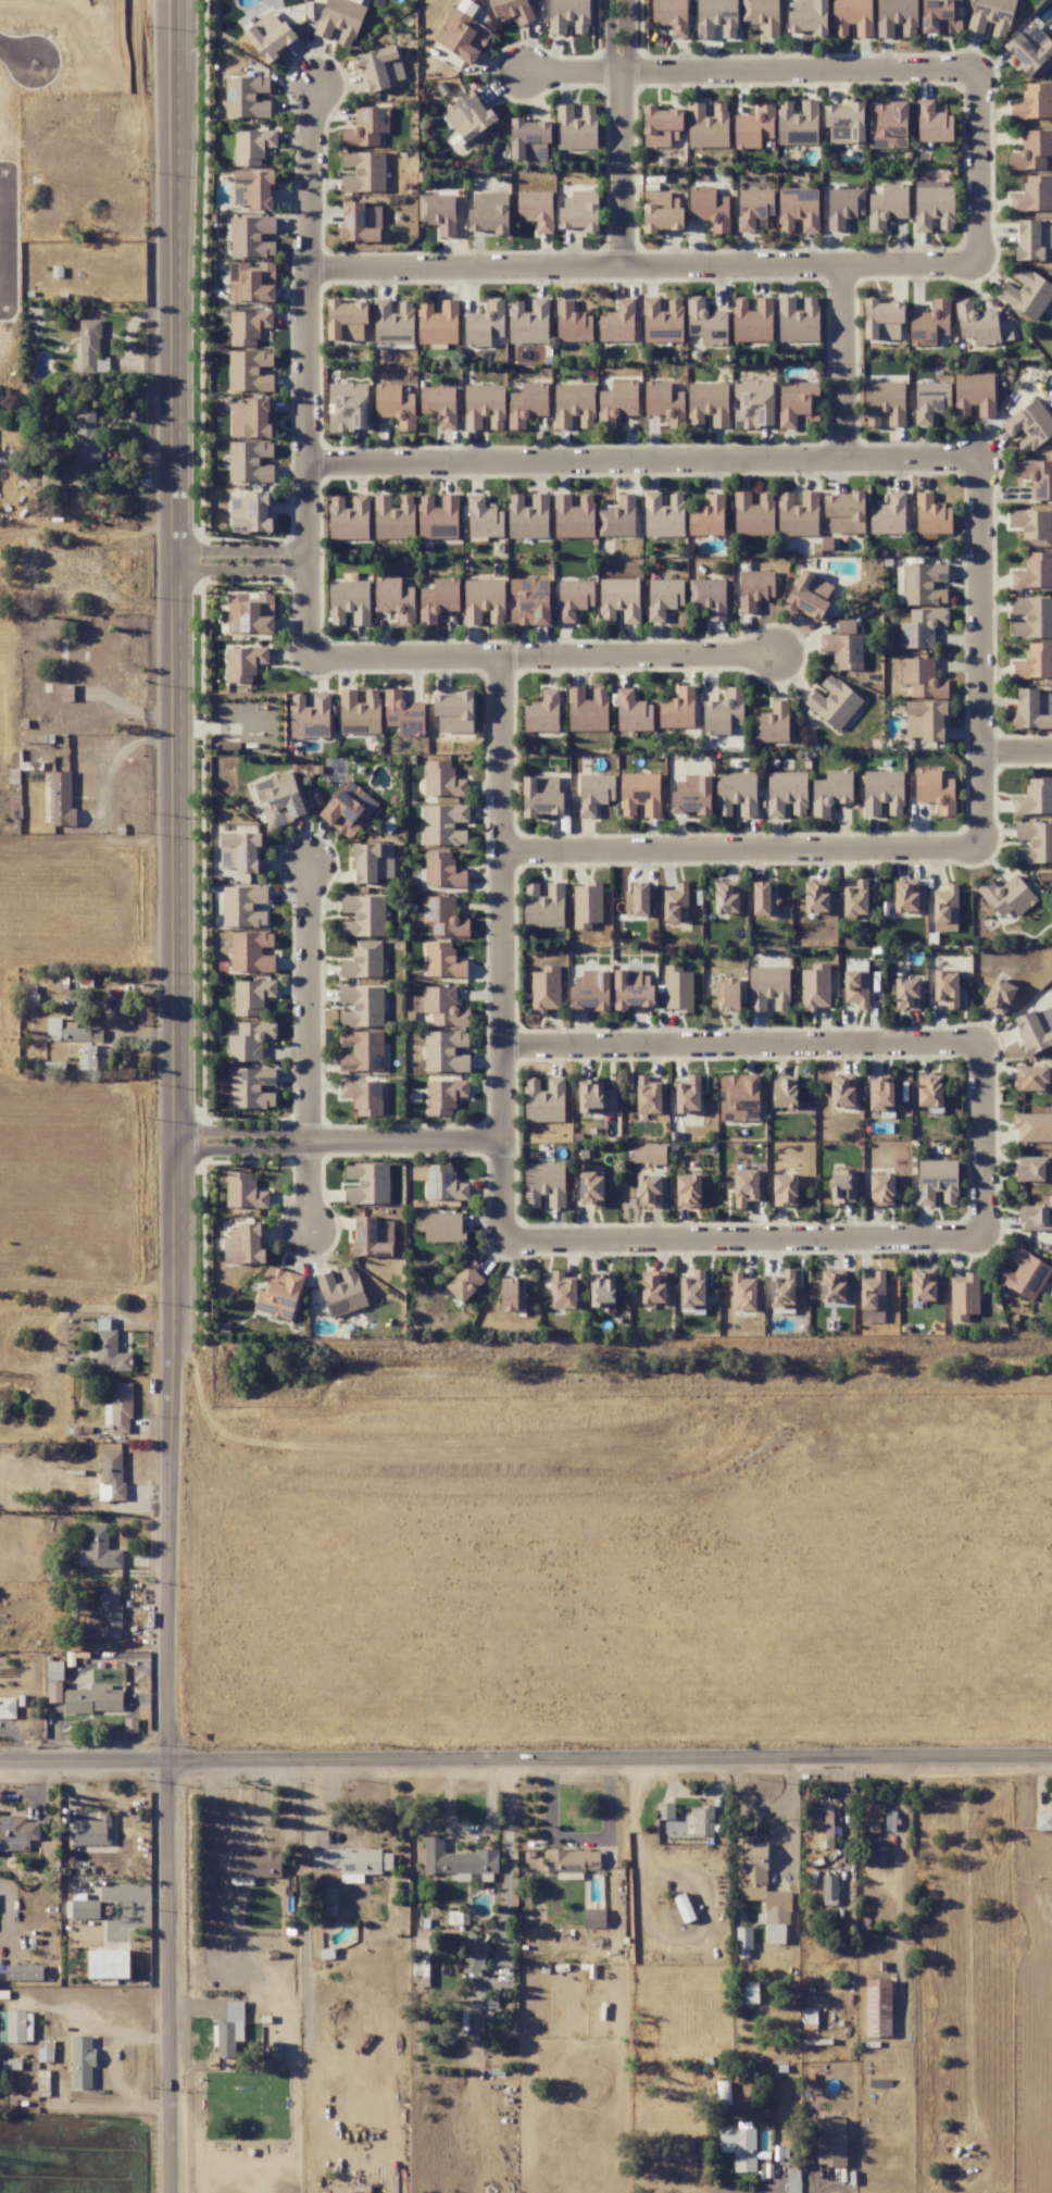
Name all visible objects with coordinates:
building: (512, 10)
building: (671, 15)
building: (762, 15)
building: (807, 16)
building: (991, 16)
building: (716, 17)
building: (340, 20)
building: (270, 36)
building: (462, 36)
road: (610, 42)
road: (628, 42)
building: (1029, 49)
road: (18, 53)
building: (385, 64)
road: (747, 65)
building: (247, 97)
building: (1034, 102)
building: (469, 116)
building: (797, 123)
building: (844, 123)
building: (932, 123)
building: (887, 124)
building: (707, 125)
building: (661, 126)
building: (754, 126)
building: (366, 127)
building: (576, 128)
building: (529, 139)
building: (252, 146)
building: (1031, 150)
road: (977, 164)
building: (363, 172)
road: (622, 175)
building: (253, 189)
building: (1034, 195)
building: (887, 205)
building: (934, 205)
building: (843, 207)
building: (710, 208)
building: (753, 208)
building: (536, 209)
building: (798, 209)
building: (579, 211)
building: (438, 212)
building: (661, 212)
building: (489, 213)
building: (361, 222)
building: (251, 236)
building: (1034, 240)
road: (11, 245)
road: (642, 265)
building: (250, 282)
building: (1027, 292)
building: (346, 320)
building: (393, 320)
building: (799, 320)
building: (881, 320)
building: (662, 321)
building: (752, 321)
building: (930, 321)
building: (528, 322)
building: (705, 322)
building: (437, 323)
building: (573, 323)
building: (617, 323)
building: (976, 323)
building: (486, 325)
building: (248, 326)
building: (89, 346)
road: (840, 362)
building: (249, 371)
road: (306, 371)
building: (974, 395)
building: (930, 400)
building: (616, 402)
building: (664, 402)
building: (885, 402)
building: (707, 403)
building: (753, 403)
building: (396, 404)
building: (439, 404)
building: (526, 404)
building: (799, 404)
building: (484, 406)
building: (574, 406)
building: (348, 407)
building: (250, 419)
building: (1029, 425)
building: (86, 435)
road: (643, 459)
building: (250, 461)
building: (1037, 477)
building: (251, 511)
building: (844, 512)
building: (753, 514)
building: (798, 514)
building: (663, 515)
building: (889, 515)
building: (931, 515)
building: (527, 516)
building: (574, 516)
building: (707, 516)
building: (349, 518)
building: (393, 518)
building: (438, 518)
building: (617, 518)
building: (484, 519)
building: (1032, 526)
road: (240, 560)
building: (1035, 571)
building: (924, 584)
building: (754, 588)
building: (809, 596)
building: (663, 597)
building: (709, 597)
building: (574, 598)
building: (394, 599)
building: (438, 599)
building: (619, 599)
building: (484, 600)
building: (349, 601)
building: (529, 601)
building: (250, 613)
building: (1032, 616)
building: (922, 627)
building: (843, 650)
road: (981, 653)
road: (548, 656)
building: (243, 662)
building: (1035, 662)
building: (922, 677)
building: (834, 702)
building: (401, 709)
building: (677, 709)
building: (1034, 709)
building: (587, 710)
building: (633, 711)
building: (360, 712)
building: (454, 712)
building: (542, 712)
building: (724, 712)
building: (310, 715)
building: (925, 720)
building: (772, 723)
road: (1017, 750)
building: (442, 780)
building: (61, 790)
building: (830, 790)
building: (935, 790)
building: (594, 793)
building: (786, 793)
building: (882, 793)
building: (640, 794)
building: (736, 794)
building: (692, 795)
building: (541, 796)
building: (279, 798)
building: (1048, 808)
building: (348, 809)
building: (444, 825)
building: (1035, 842)
road: (741, 847)
building: (239, 851)
building: (373, 861)
building: (442, 870)
road: (46, 872)
building: (906, 896)
building: (1006, 896)
building: (726, 897)
building: (816, 897)
building: (637, 899)
building: (764, 899)
building: (855, 899)
building: (675, 904)
building: (587, 905)
building: (243, 906)
building: (543, 906)
building: (368, 909)
building: (945, 909)
building: (443, 917)
building: (251, 951)
road: (501, 951)
building: (442, 960)
building: (363, 961)
building: (768, 987)
building: (815, 987)
building: (855, 987)
building: (945, 987)
building: (544, 988)
building: (677, 988)
building: (633, 989)
building: (590, 990)
building: (727, 993)
building: (906, 994)
building: (252, 996)
building: (999, 996)
building: (362, 1006)
building: (443, 1007)
building: (1044, 1017)
building: (249, 1039)
building: (80, 1043)
road: (741, 1045)
building: (362, 1050)
building: (444, 1051)
road: (306, 1054)
building: (1031, 1079)
building: (251, 1087)
building: (929, 1089)
building: (842, 1091)
building: (784, 1093)
building: (880, 1094)
building: (688, 1095)
road: (173, 1096)
building: (363, 1096)
building: (443, 1096)
building: (594, 1096)
building: (648, 1096)
building: (739, 1097)
building: (544, 1100)
building: (1032, 1126)
road: (338, 1139)
road: (981, 1141)
building: (650, 1155)
road: (61, 1166)
building: (1031, 1168)
building: (937, 1181)
building: (444, 1183)
building: (367, 1184)
building: (544, 1184)
building: (842, 1186)
building: (746, 1187)
building: (590, 1188)
building: (881, 1188)
building: (649, 1189)
building: (785, 1189)
building: (688, 1191)
building: (243, 1192)
building: (1036, 1218)
building: (441, 1226)
building: (373, 1236)
road: (743, 1242)
building: (245, 1245)
building: (1025, 1273)
building: (465, 1281)
building: (923, 1285)
building: (602, 1289)
building: (693, 1289)
building: (784, 1289)
building: (563, 1291)
building: (341, 1292)
building: (742, 1292)
building: (873, 1292)
building: (278, 1293)
building: (512, 1295)
building: (964, 1296)
building: (110, 1353)
building: (121, 1407)
building: (113, 1473)
building: (98, 1549)
building: (108, 1598)
building: (55, 1670)
building: (92, 1699)
building: (5, 1707)
road: (525, 1758)
building: (874, 1808)
building: (685, 1821)
building: (1043, 1821)
building: (828, 1823)
building: (17, 1831)
building: (90, 1831)
building: (451, 1856)
building: (352, 1860)
building: (572, 1860)
building: (254, 1864)
building: (829, 1887)
building: (85, 1907)
building: (593, 1918)
building: (778, 1933)
building: (743, 1941)
building: (474, 1955)
building: (108, 1964)
building: (23, 1972)
building: (747, 1992)
building: (878, 2006)
building: (231, 2023)
building: (15, 2027)
building: (82, 2045)
building: (830, 2142)
building: (739, 2146)
building: (792, 2180)
road: (834, 2190)

